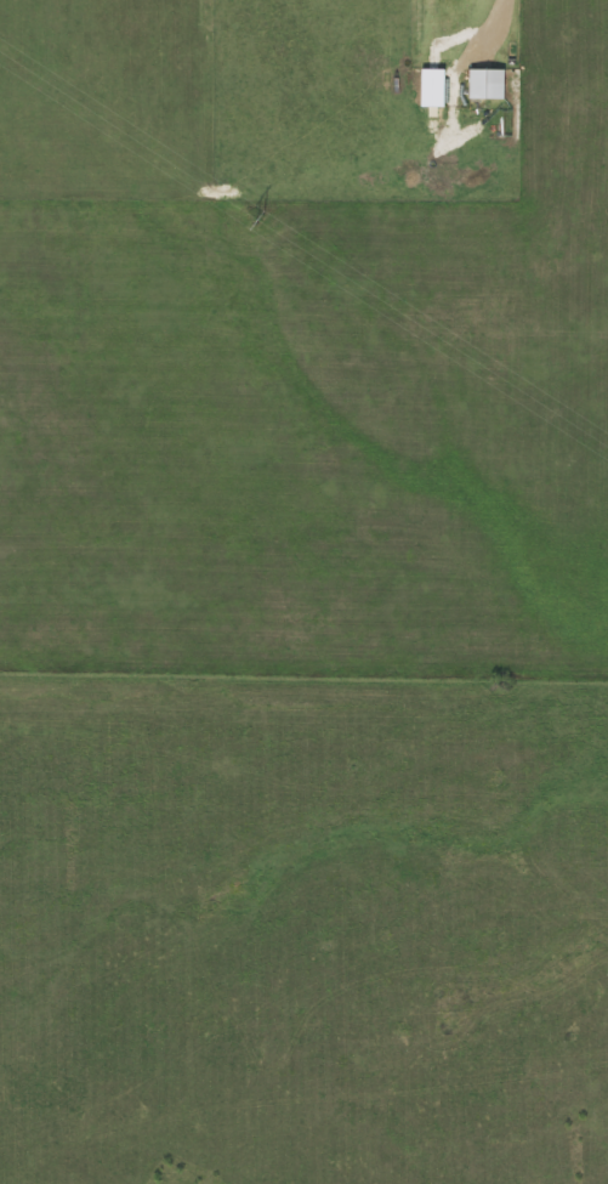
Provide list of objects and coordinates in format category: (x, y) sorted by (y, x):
building: (489, 84)

